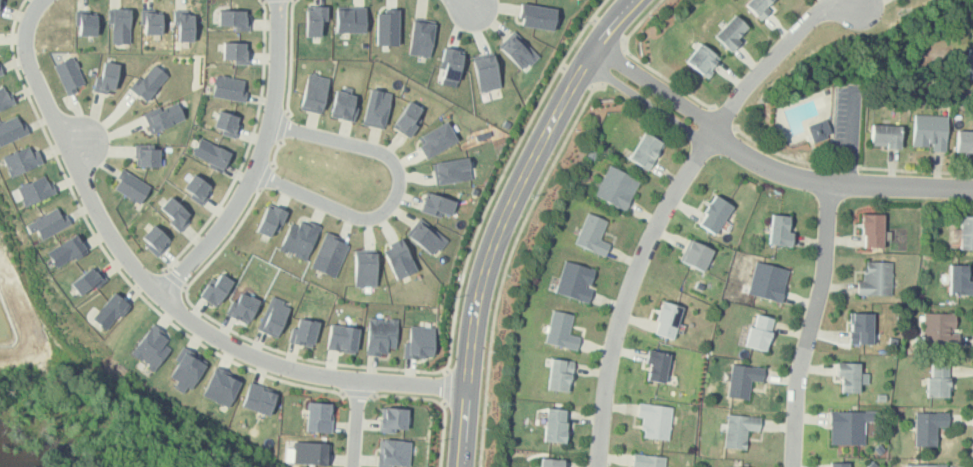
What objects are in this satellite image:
building: (0, 3)
building: (759, 6)
building: (536, 16)
building: (234, 18)
building: (350, 19)
road: (594, 19)
building: (314, 20)
building: (151, 21)
building: (86, 22)
road: (637, 24)
building: (120, 25)
building: (184, 25)
road: (613, 25)
building: (386, 27)
road: (608, 29)
building: (732, 33)
building: (421, 37)
road: (624, 39)
building: (518, 50)
building: (236, 51)
road: (290, 54)
building: (702, 60)
building: (450, 65)
building: (968, 65)
road: (563, 66)
road: (612, 66)
building: (0, 72)
building: (486, 73)
building: (69, 74)
road: (578, 75)
building: (107, 77)
road: (669, 80)
building: (148, 81)
road: (592, 86)
building: (229, 88)
building: (314, 93)
building: (6, 98)
building: (343, 106)
building: (376, 108)
building: (163, 117)
road: (724, 117)
building: (407, 119)
building: (227, 123)
road: (284, 123)
building: (11, 129)
building: (818, 131)
building: (929, 133)
road: (851, 135)
building: (885, 137)
building: (436, 139)
building: (964, 143)
road: (247, 148)
building: (645, 150)
road: (275, 151)
building: (210, 154)
building: (147, 155)
road: (785, 156)
building: (22, 160)
road: (258, 163)
road: (767, 165)
road: (850, 167)
building: (451, 170)
road: (915, 171)
road: (265, 175)
road: (501, 178)
building: (131, 186)
building: (197, 188)
building: (615, 188)
building: (36, 190)
road: (671, 192)
road: (396, 193)
building: (436, 204)
building: (175, 212)
road: (507, 212)
building: (714, 214)
building: (270, 219)
building: (48, 223)
building: (780, 231)
building: (872, 231)
building: (966, 233)
building: (592, 235)
building: (425, 236)
building: (299, 238)
building: (155, 239)
building: (66, 251)
building: (329, 254)
building: (695, 255)
road: (110, 256)
building: (398, 258)
road: (508, 262)
building: (364, 269)
road: (176, 278)
building: (87, 279)
building: (875, 279)
building: (960, 280)
building: (575, 281)
building: (767, 281)
building: (215, 289)
road: (156, 293)
building: (242, 307)
building: (110, 311)
building: (273, 315)
building: (667, 319)
road: (810, 325)
building: (860, 328)
building: (940, 329)
building: (560, 331)
building: (304, 332)
building: (760, 332)
building: (380, 335)
road: (244, 336)
building: (342, 338)
building: (419, 342)
building: (151, 347)
building: (656, 365)
building: (187, 367)
building: (559, 374)
building: (848, 376)
building: (742, 380)
building: (938, 380)
building: (221, 386)
road: (447, 386)
road: (359, 393)
road: (408, 396)
building: (259, 398)
building: (317, 417)
building: (393, 419)
building: (654, 420)
road: (355, 423)
building: (554, 424)
road: (463, 427)
building: (928, 427)
building: (846, 428)
building: (738, 429)
road: (443, 432)
building: (311, 452)
building: (393, 453)
building: (647, 460)
building: (549, 463)
building: (840, 464)
building: (926, 465)

